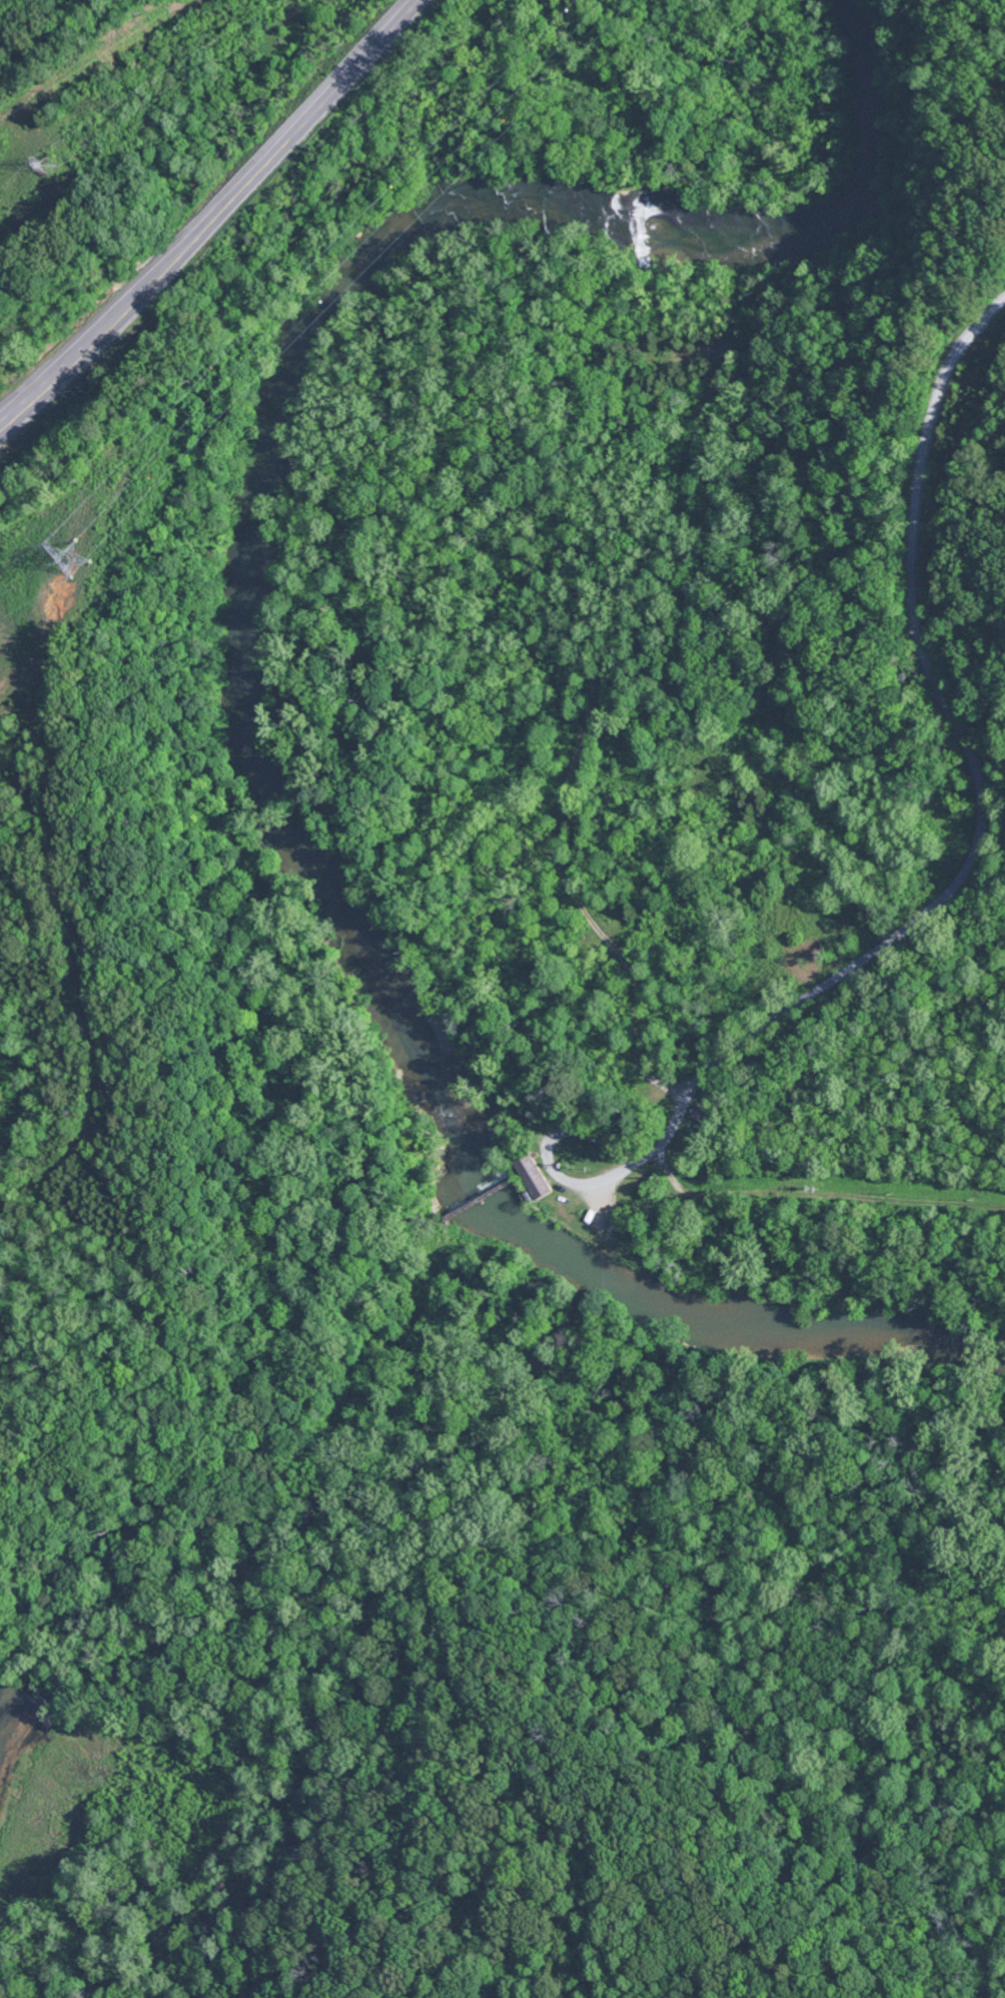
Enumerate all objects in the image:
power tower: (50, 161)
road: (253, 181)
road: (40, 392)
power tower: (78, 560)
river: (248, 659)
road: (980, 788)
road: (579, 901)
road: (546, 1153)
building: (533, 1176)
road: (883, 1615)

